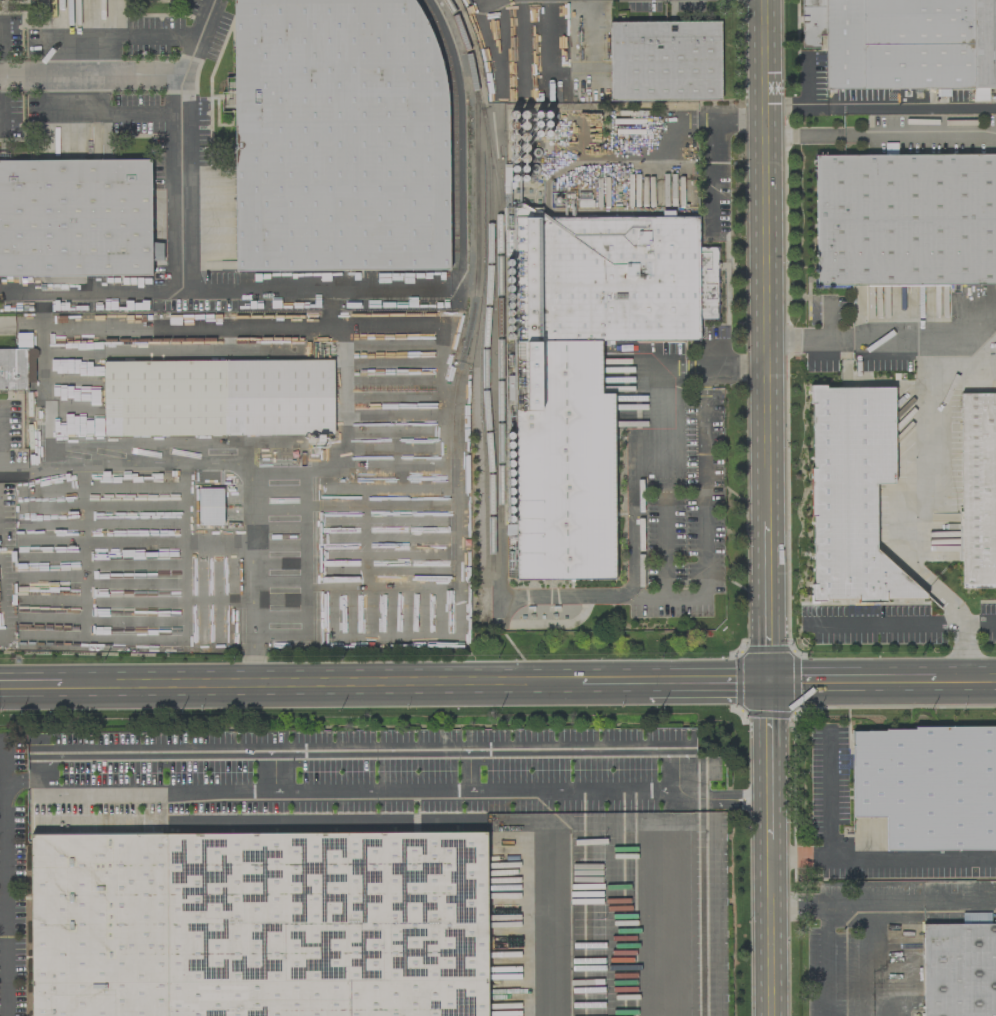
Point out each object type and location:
railway: (458, 25)
road: (130, 38)
road: (199, 38)
building: (904, 43)
road: (0, 47)
building: (664, 61)
road: (181, 91)
road: (880, 108)
road: (674, 119)
railway: (454, 121)
road: (919, 133)
building: (338, 135)
road: (804, 135)
road: (710, 148)
building: (76, 218)
building: (905, 220)
road: (309, 290)
road: (91, 291)
road: (978, 299)
railway: (486, 310)
railway: (498, 315)
railway: (469, 321)
road: (828, 322)
road: (164, 326)
road: (960, 336)
building: (23, 340)
road: (808, 341)
road: (175, 353)
building: (13, 369)
building: (591, 371)
road: (47, 398)
building: (219, 398)
road: (767, 398)
road: (442, 407)
road: (345, 411)
road: (930, 432)
road: (233, 465)
building: (851, 495)
building: (977, 496)
building: (210, 506)
road: (133, 543)
road: (83, 551)
road: (134, 563)
road: (2, 567)
road: (664, 571)
road: (43, 577)
road: (304, 582)
road: (135, 583)
road: (134, 599)
road: (3, 607)
road: (101, 619)
road: (887, 626)
road: (962, 626)
road: (979, 626)
road: (184, 632)
road: (969, 680)
road: (856, 683)
road: (706, 685)
traffic signals: (769, 685)
road: (612, 686)
road: (321, 687)
road: (31, 690)
road: (44, 754)
road: (467, 770)
road: (273, 771)
road: (22, 779)
building: (927, 786)
road: (829, 796)
road: (727, 798)
road: (882, 862)
road: (4, 877)
road: (672, 903)
road: (855, 903)
road: (798, 904)
road: (770, 907)
building: (258, 924)
road: (548, 925)
road: (874, 959)
building: (959, 970)

